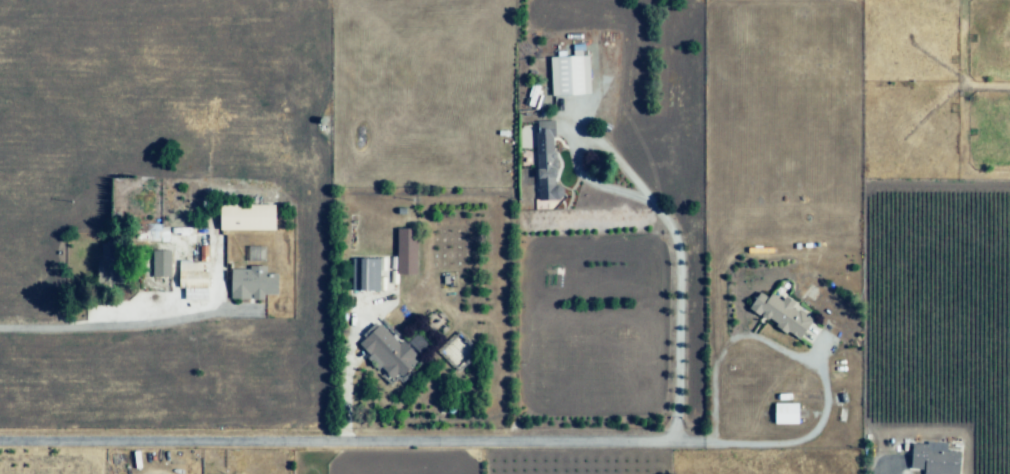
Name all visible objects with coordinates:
building: (568, 75)
building: (546, 162)
crop: (781, 205)
road: (658, 214)
crop: (162, 215)
building: (244, 218)
building: (156, 238)
building: (405, 251)
building: (159, 263)
building: (108, 267)
building: (366, 273)
building: (255, 284)
building: (194, 288)
building: (782, 314)
road: (139, 320)
building: (387, 349)
building: (457, 352)
road: (799, 363)
building: (785, 413)
road: (357, 445)
building: (935, 455)

